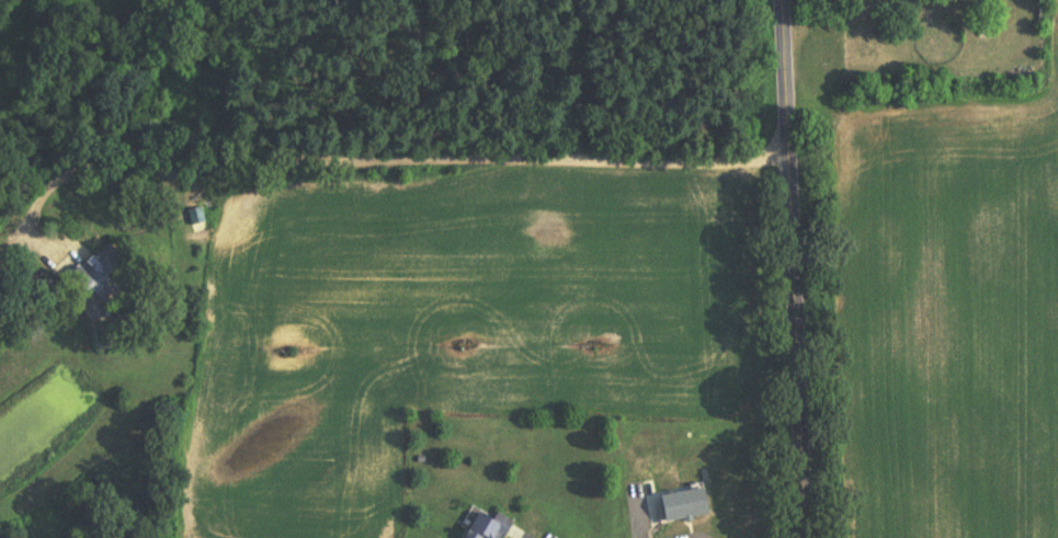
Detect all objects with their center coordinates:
road: (378, 160)
road: (797, 268)
building: (107, 275)
road: (635, 511)
building: (492, 527)

